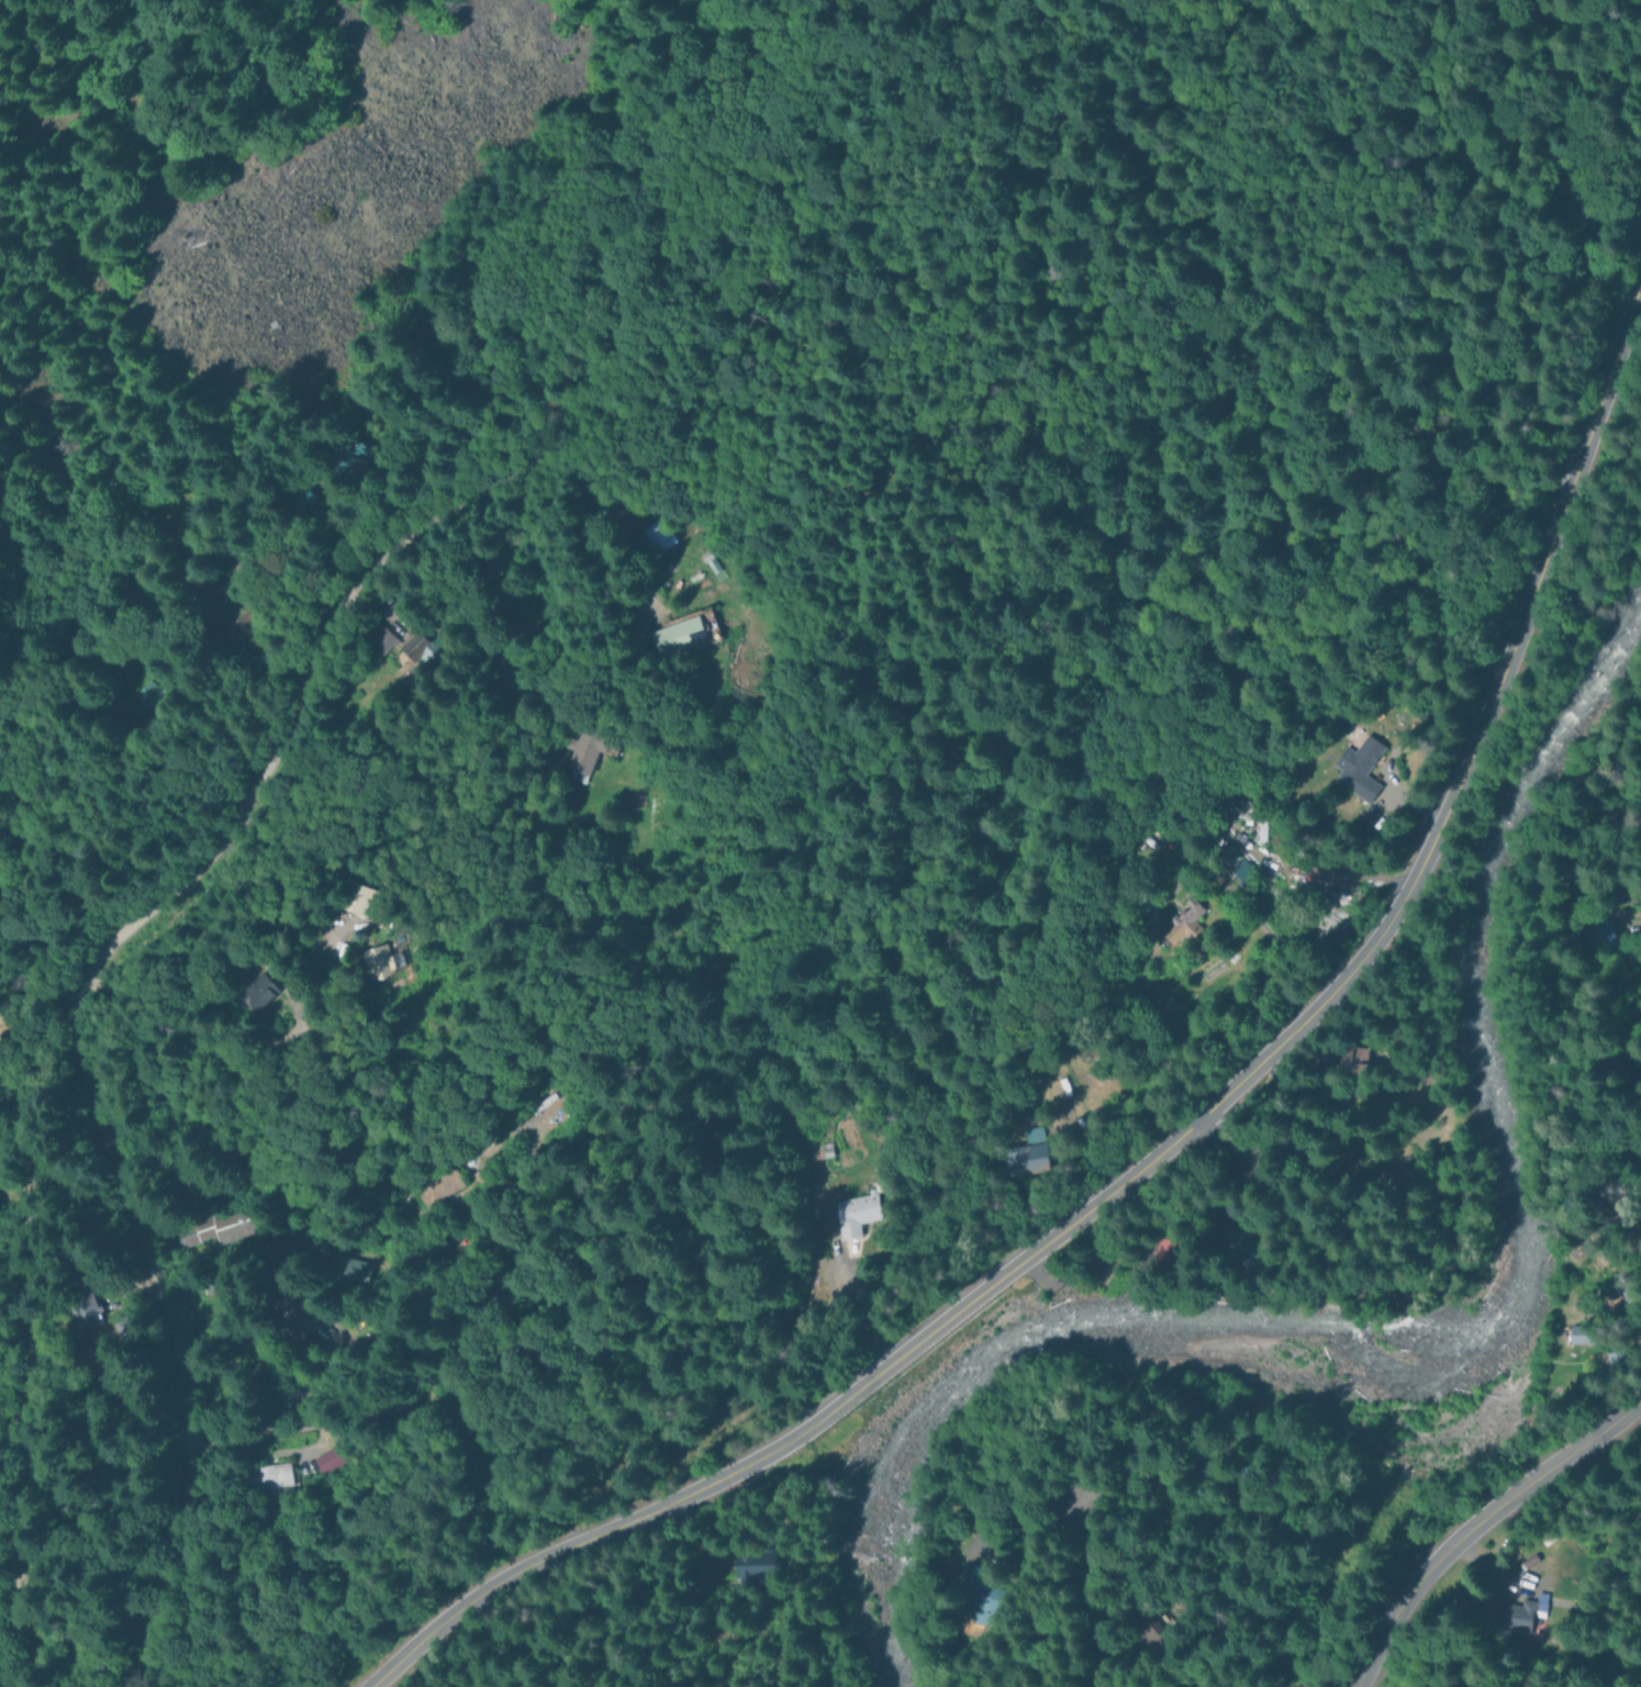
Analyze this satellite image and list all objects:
building: (354, 453)
building: (654, 537)
building: (235, 629)
building: (677, 635)
building: (372, 639)
building: (409, 647)
building: (135, 695)
building: (584, 750)
building: (1358, 767)
building: (1242, 869)
building: (1615, 890)
building: (355, 900)
building: (1187, 918)
building: (1590, 927)
building: (379, 959)
building: (253, 990)
road: (68, 1001)
building: (1350, 1059)
building: (1631, 1075)
road: (1176, 1132)
road: (1212, 1140)
building: (1020, 1154)
building: (1385, 1164)
building: (437, 1187)
building: (848, 1214)
building: (1609, 1219)
building: (1638, 1222)
building: (212, 1229)
building: (1242, 1238)
building: (1169, 1250)
building: (354, 1271)
building: (211, 1282)
building: (77, 1310)
building: (1574, 1330)
river: (1454, 1364)
road: (15, 1379)
building: (324, 1460)
building: (1209, 1466)
building: (1130, 1471)
building: (268, 1475)
building: (1384, 1496)
road: (1483, 1528)
building: (750, 1565)
road: (1075, 1595)
building: (979, 1605)
building: (1507, 1616)
building: (1131, 1643)
building: (1272, 1686)

